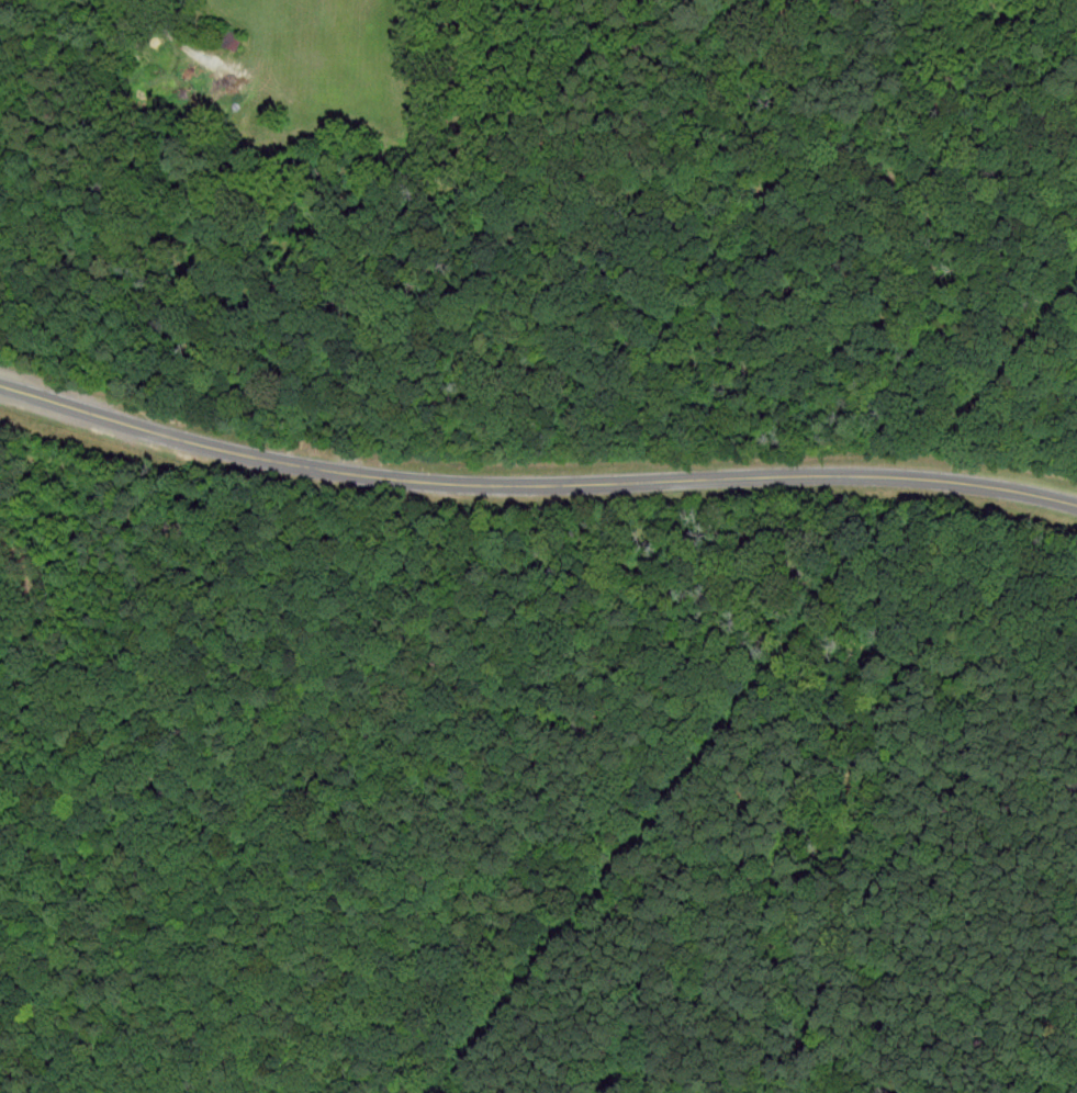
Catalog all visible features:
building: (226, 36)
road: (187, 47)
road: (534, 484)

